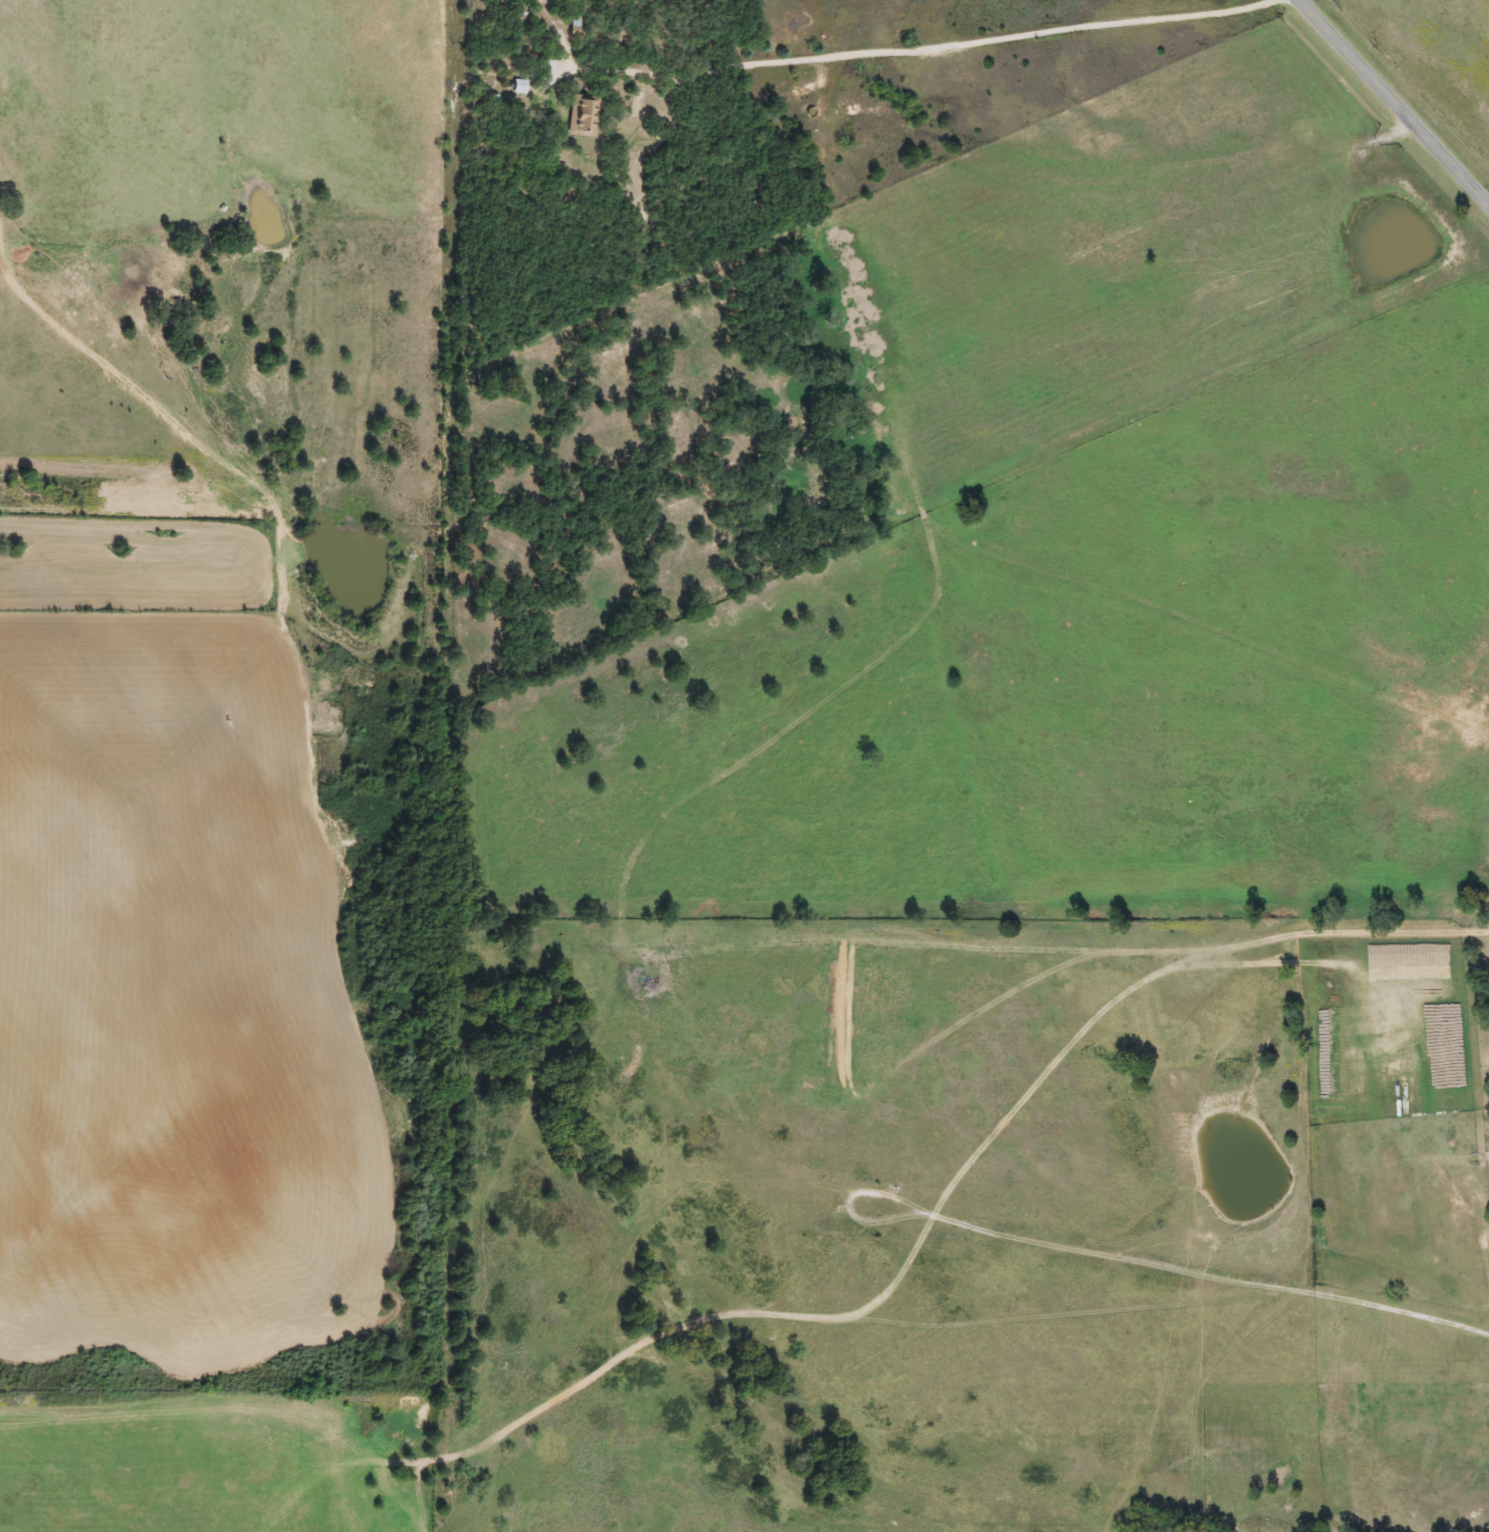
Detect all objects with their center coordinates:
road: (920, 49)
building: (518, 86)
road: (1392, 102)
building: (581, 115)
road: (1153, 169)
road: (8, 276)

